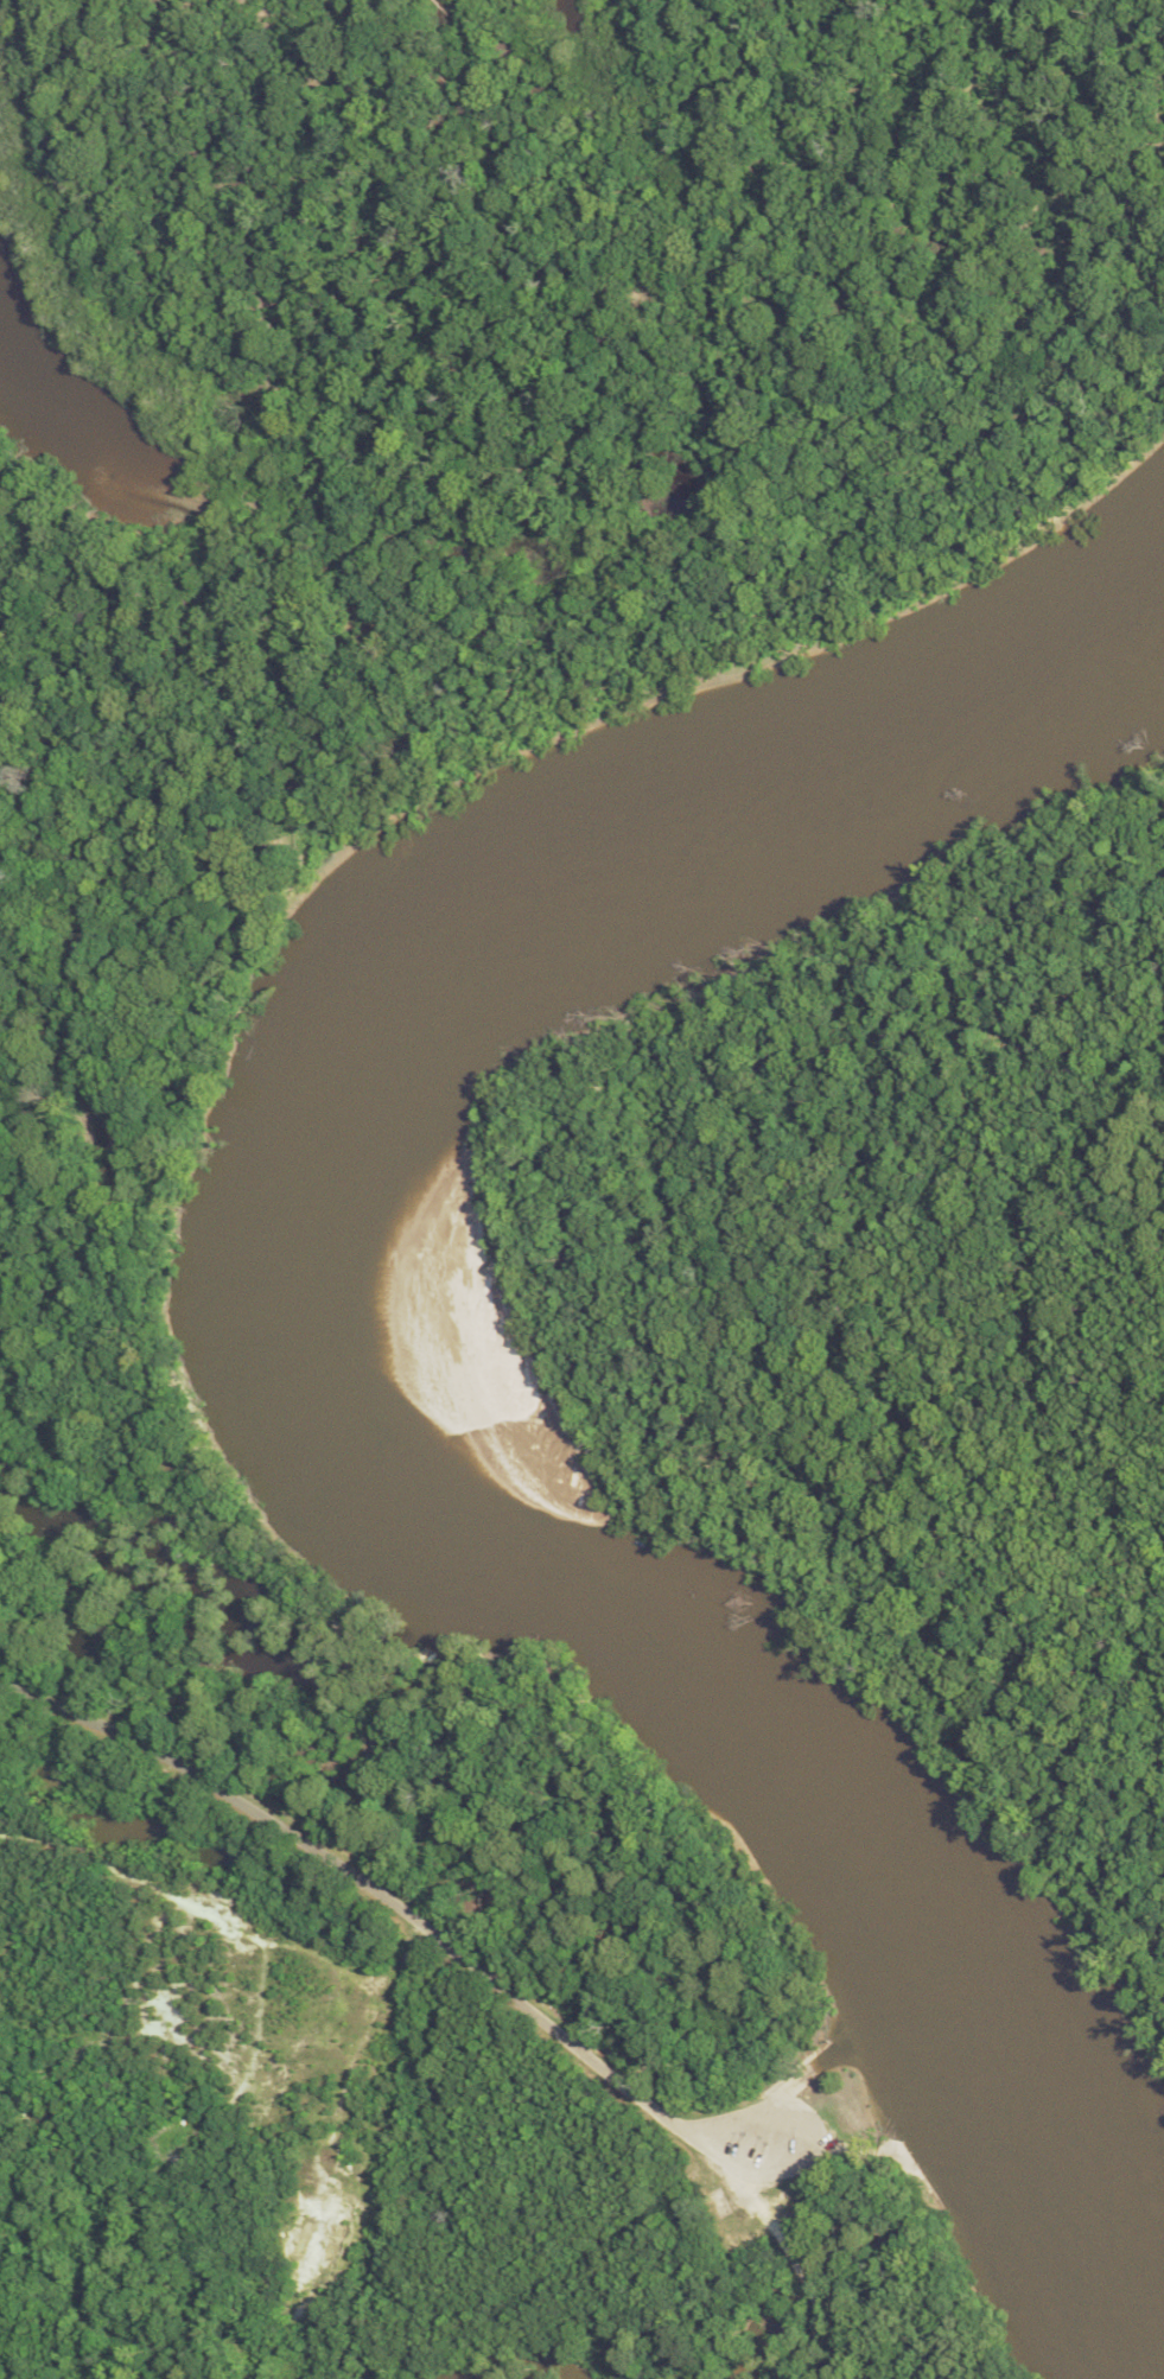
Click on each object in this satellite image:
river: (387, 1365)
road: (379, 1887)

